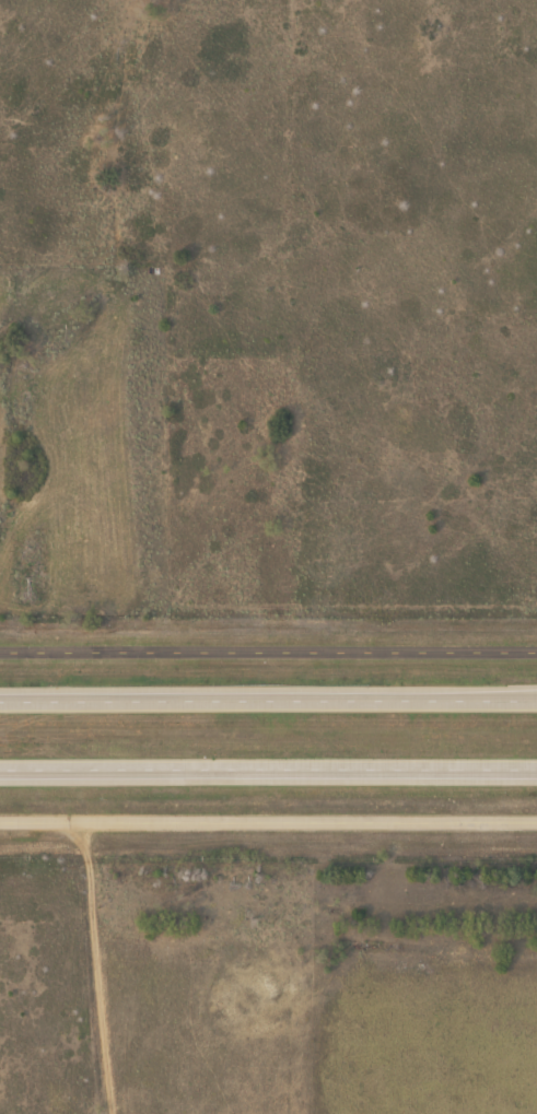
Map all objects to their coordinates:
road: (268, 650)
road: (268, 697)
road: (268, 770)
road: (268, 820)

